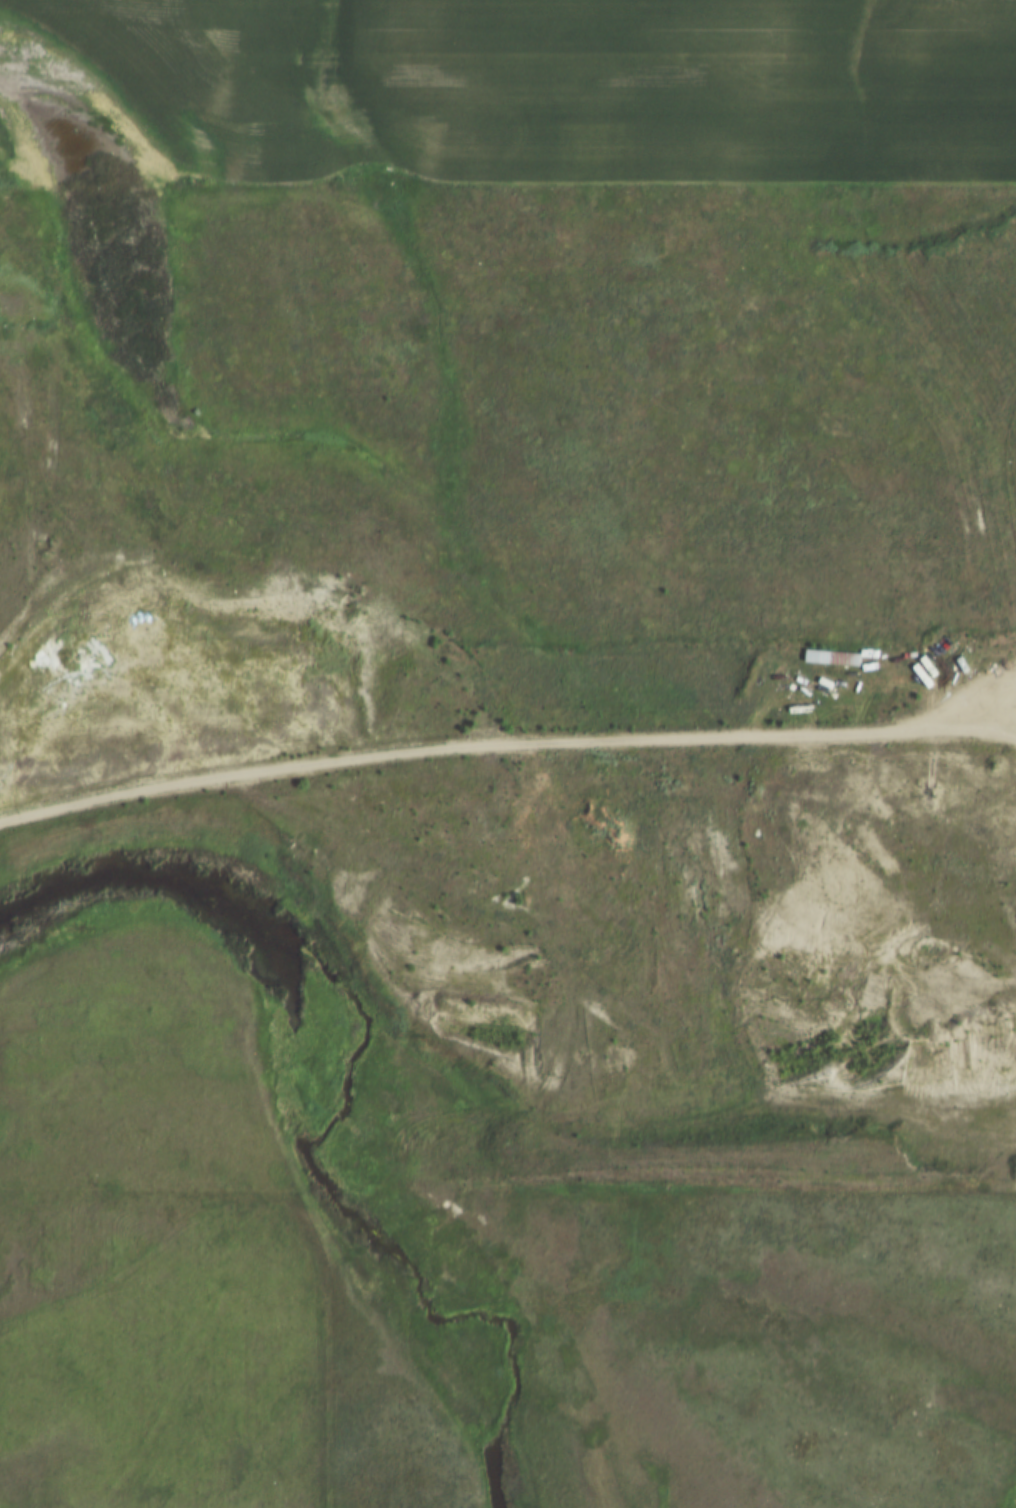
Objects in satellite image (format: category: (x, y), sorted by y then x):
building: (837, 652)

